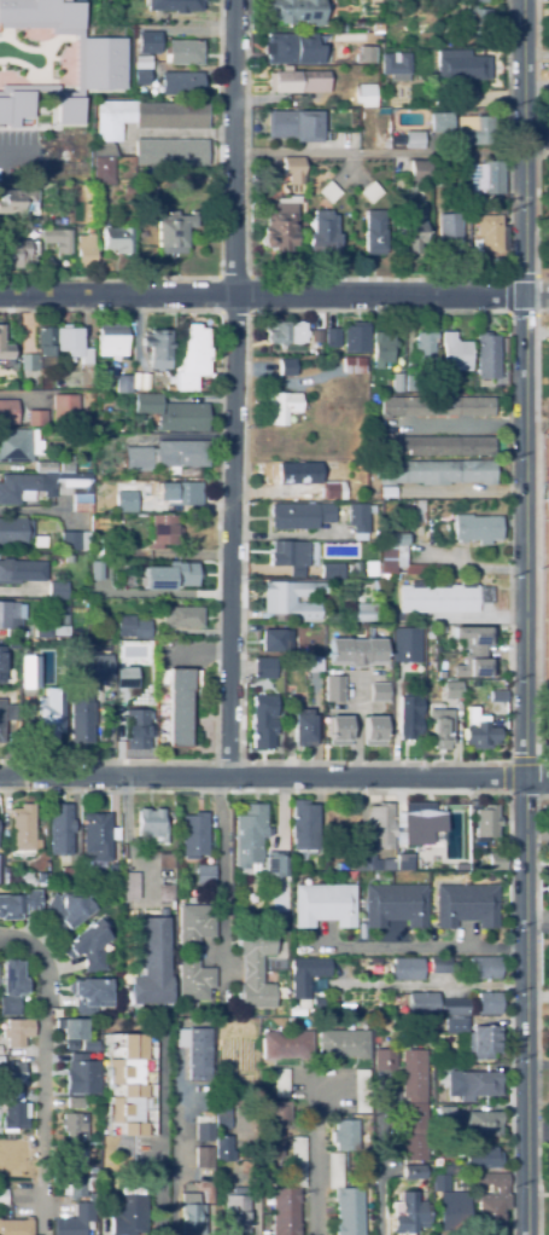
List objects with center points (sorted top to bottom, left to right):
building: (471, 0)
building: (179, 5)
building: (42, 11)
building: (124, 11)
building: (293, 12)
building: (477, 21)
building: (109, 28)
building: (141, 28)
building: (341, 28)
building: (375, 28)
building: (285, 48)
building: (165, 50)
building: (431, 53)
building: (364, 54)
building: (395, 64)
building: (463, 65)
building: (41, 66)
building: (373, 71)
building: (141, 77)
building: (298, 81)
building: (182, 83)
building: (364, 94)
building: (385, 98)
building: (469, 102)
building: (309, 104)
building: (40, 117)
building: (438, 122)
building: (294, 126)
building: (138, 127)
building: (467, 131)
road: (536, 137)
building: (413, 139)
parking lot: (13, 150)
road: (327, 151)
building: (170, 152)
road: (17, 153)
building: (293, 169)
building: (416, 170)
building: (437, 181)
building: (484, 181)
building: (328, 192)
building: (370, 192)
building: (147, 193)
building: (19, 202)
building: (25, 221)
building: (52, 221)
road: (536, 221)
building: (279, 226)
building: (408, 230)
building: (171, 231)
building: (373, 232)
building: (489, 232)
building: (322, 233)
building: (449, 233)
parking lot: (548, 238)
building: (57, 239)
building: (117, 240)
building: (84, 250)
building: (16, 254)
road: (261, 294)
road: (536, 294)
road: (536, 294)
road: (507, 295)
parking lot: (543, 298)
park: (543, 309)
road: (247, 314)
building: (284, 332)
building: (21, 334)
building: (314, 336)
building: (329, 337)
building: (354, 338)
building: (110, 340)
building: (70, 343)
building: (5, 347)
building: (424, 347)
building: (380, 348)
building: (156, 349)
building: (40, 350)
building: (455, 353)
building: (487, 355)
building: (188, 356)
building: (325, 360)
building: (351, 365)
building: (285, 367)
building: (395, 382)
building: (413, 383)
building: (122, 384)
building: (135, 384)
road: (230, 388)
road: (524, 388)
building: (167, 389)
building: (498, 390)
building: (436, 406)
building: (280, 407)
building: (65, 410)
building: (8, 412)
building: (169, 414)
building: (36, 418)
building: (18, 446)
building: (434, 446)
building: (165, 456)
building: (84, 458)
building: (66, 464)
building: (45, 466)
building: (436, 472)
building: (302, 481)
building: (18, 488)
building: (72, 488)
building: (180, 493)
building: (381, 493)
building: (125, 499)
building: (419, 512)
building: (299, 515)
building: (358, 518)
building: (477, 528)
building: (14, 530)
building: (164, 530)
building: (75, 540)
road: (535, 540)
building: (40, 541)
building: (105, 547)
building: (399, 552)
building: (287, 553)
building: (68, 558)
building: (117, 566)
building: (370, 567)
building: (331, 569)
building: (18, 573)
building: (176, 575)
building: (376, 587)
building: (58, 591)
building: (292, 598)
building: (437, 599)
building: (78, 607)
building: (364, 610)
building: (10, 613)
building: (182, 616)
building: (132, 627)
building: (49, 630)
building: (276, 640)
building: (408, 644)
building: (356, 651)
building: (473, 651)
building: (315, 665)
building: (90, 667)
building: (264, 668)
building: (1, 671)
building: (30, 672)
building: (127, 678)
building: (334, 689)
building: (379, 691)
building: (498, 696)
building: (179, 707)
building: (11, 708)
building: (49, 715)
building: (409, 715)
building: (80, 717)
building: (446, 717)
building: (1, 718)
building: (264, 721)
building: (303, 727)
building: (138, 729)
building: (374, 730)
building: (339, 731)
building: (480, 736)
road: (507, 760)
road: (262, 776)
road: (537, 777)
road: (128, 819)
building: (486, 822)
building: (152, 825)
building: (303, 825)
building: (380, 825)
building: (23, 829)
building: (416, 829)
building: (60, 830)
building: (194, 834)
building: (249, 835)
building: (97, 837)
building: (280, 850)
building: (334, 851)
building: (497, 862)
building: (370, 863)
building: (343, 866)
building: (456, 866)
building: (275, 868)
building: (204, 874)
building: (14, 876)
building: (70, 876)
building: (41, 877)
building: (164, 877)
road: (221, 885)
building: (130, 887)
building: (18, 904)
building: (325, 905)
building: (395, 905)
building: (466, 905)
building: (68, 909)
road: (537, 914)
building: (193, 924)
building: (284, 924)
building: (87, 945)
road: (420, 946)
building: (152, 963)
building: (440, 966)
building: (486, 967)
building: (255, 969)
building: (405, 969)
building: (306, 978)
building: (193, 980)
road: (420, 984)
building: (12, 986)
building: (90, 995)
building: (421, 1003)
building: (489, 1003)
road: (525, 1005)
building: (454, 1007)
road: (536, 1010)
road: (509, 1013)
building: (17, 1032)
building: (72, 1032)
building: (475, 1038)
building: (344, 1044)
building: (89, 1045)
building: (287, 1045)
building: (195, 1051)
building: (1, 1059)
building: (384, 1060)
building: (13, 1073)
road: (45, 1074)
building: (81, 1079)
building: (281, 1083)
building: (477, 1084)
building: (130, 1085)
building: (361, 1089)
building: (74, 1102)
building: (413, 1103)
building: (444, 1113)
building: (276, 1114)
building: (222, 1117)
building: (14, 1119)
building: (483, 1124)
road: (537, 1124)
building: (75, 1127)
building: (204, 1132)
building: (345, 1136)
building: (273, 1146)
building: (2, 1147)
building: (223, 1149)
building: (94, 1150)
building: (486, 1152)
road: (176, 1153)
building: (203, 1156)
road: (311, 1156)
building: (74, 1158)
building: (449, 1169)
building: (92, 1170)
building: (413, 1172)
building: (54, 1179)
building: (78, 1187)
building: (290, 1193)
building: (4, 1196)
building: (344, 1199)
building: (450, 1204)
building: (491, 1204)
building: (128, 1211)
building: (235, 1212)
building: (408, 1213)
building: (191, 1214)
building: (77, 1220)
building: (16, 1227)

